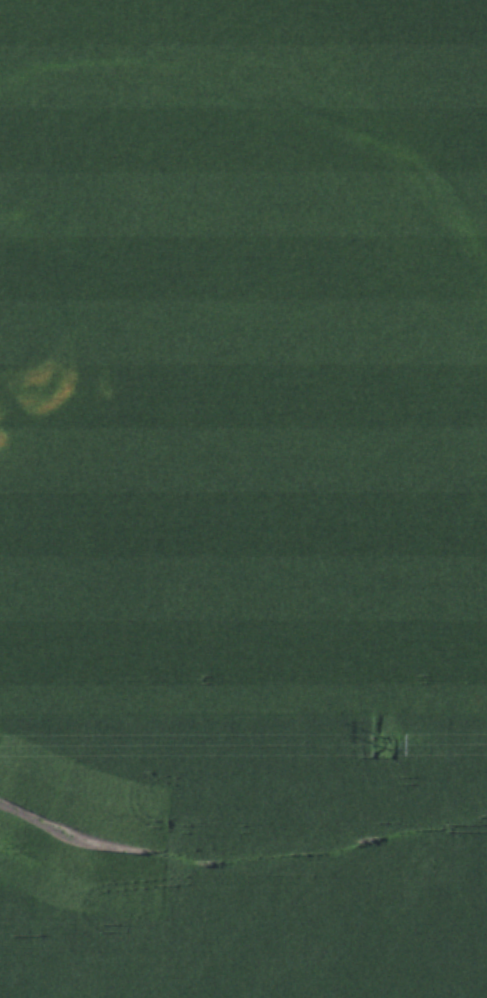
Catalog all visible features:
power tower: (387, 746)

